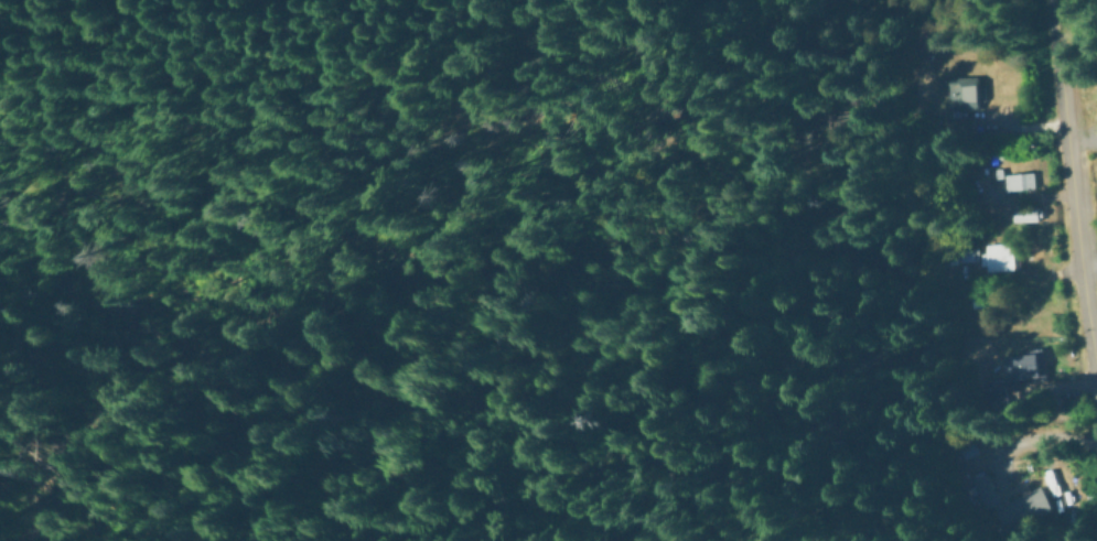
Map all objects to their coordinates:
building: (965, 93)
building: (1019, 180)
road: (1076, 207)
building: (1024, 213)
building: (989, 255)
building: (1022, 366)
building: (1010, 501)

